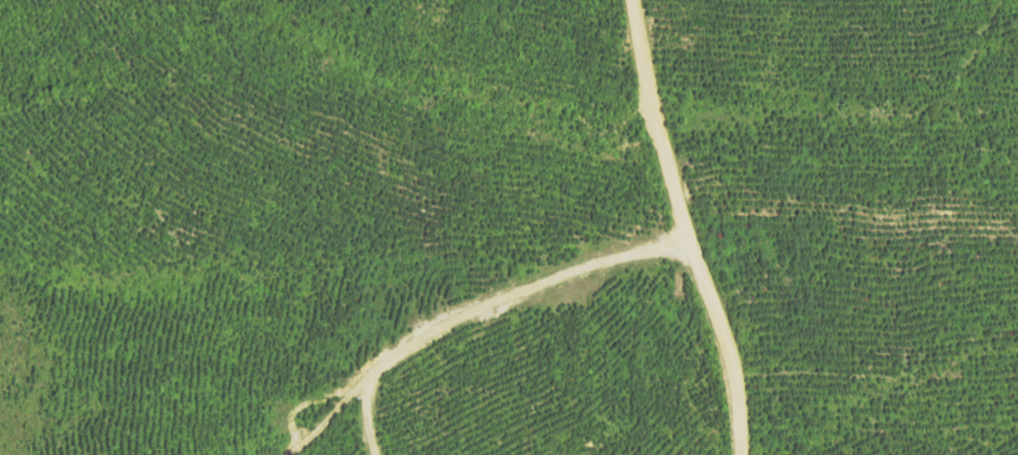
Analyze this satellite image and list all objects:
road: (680, 227)

